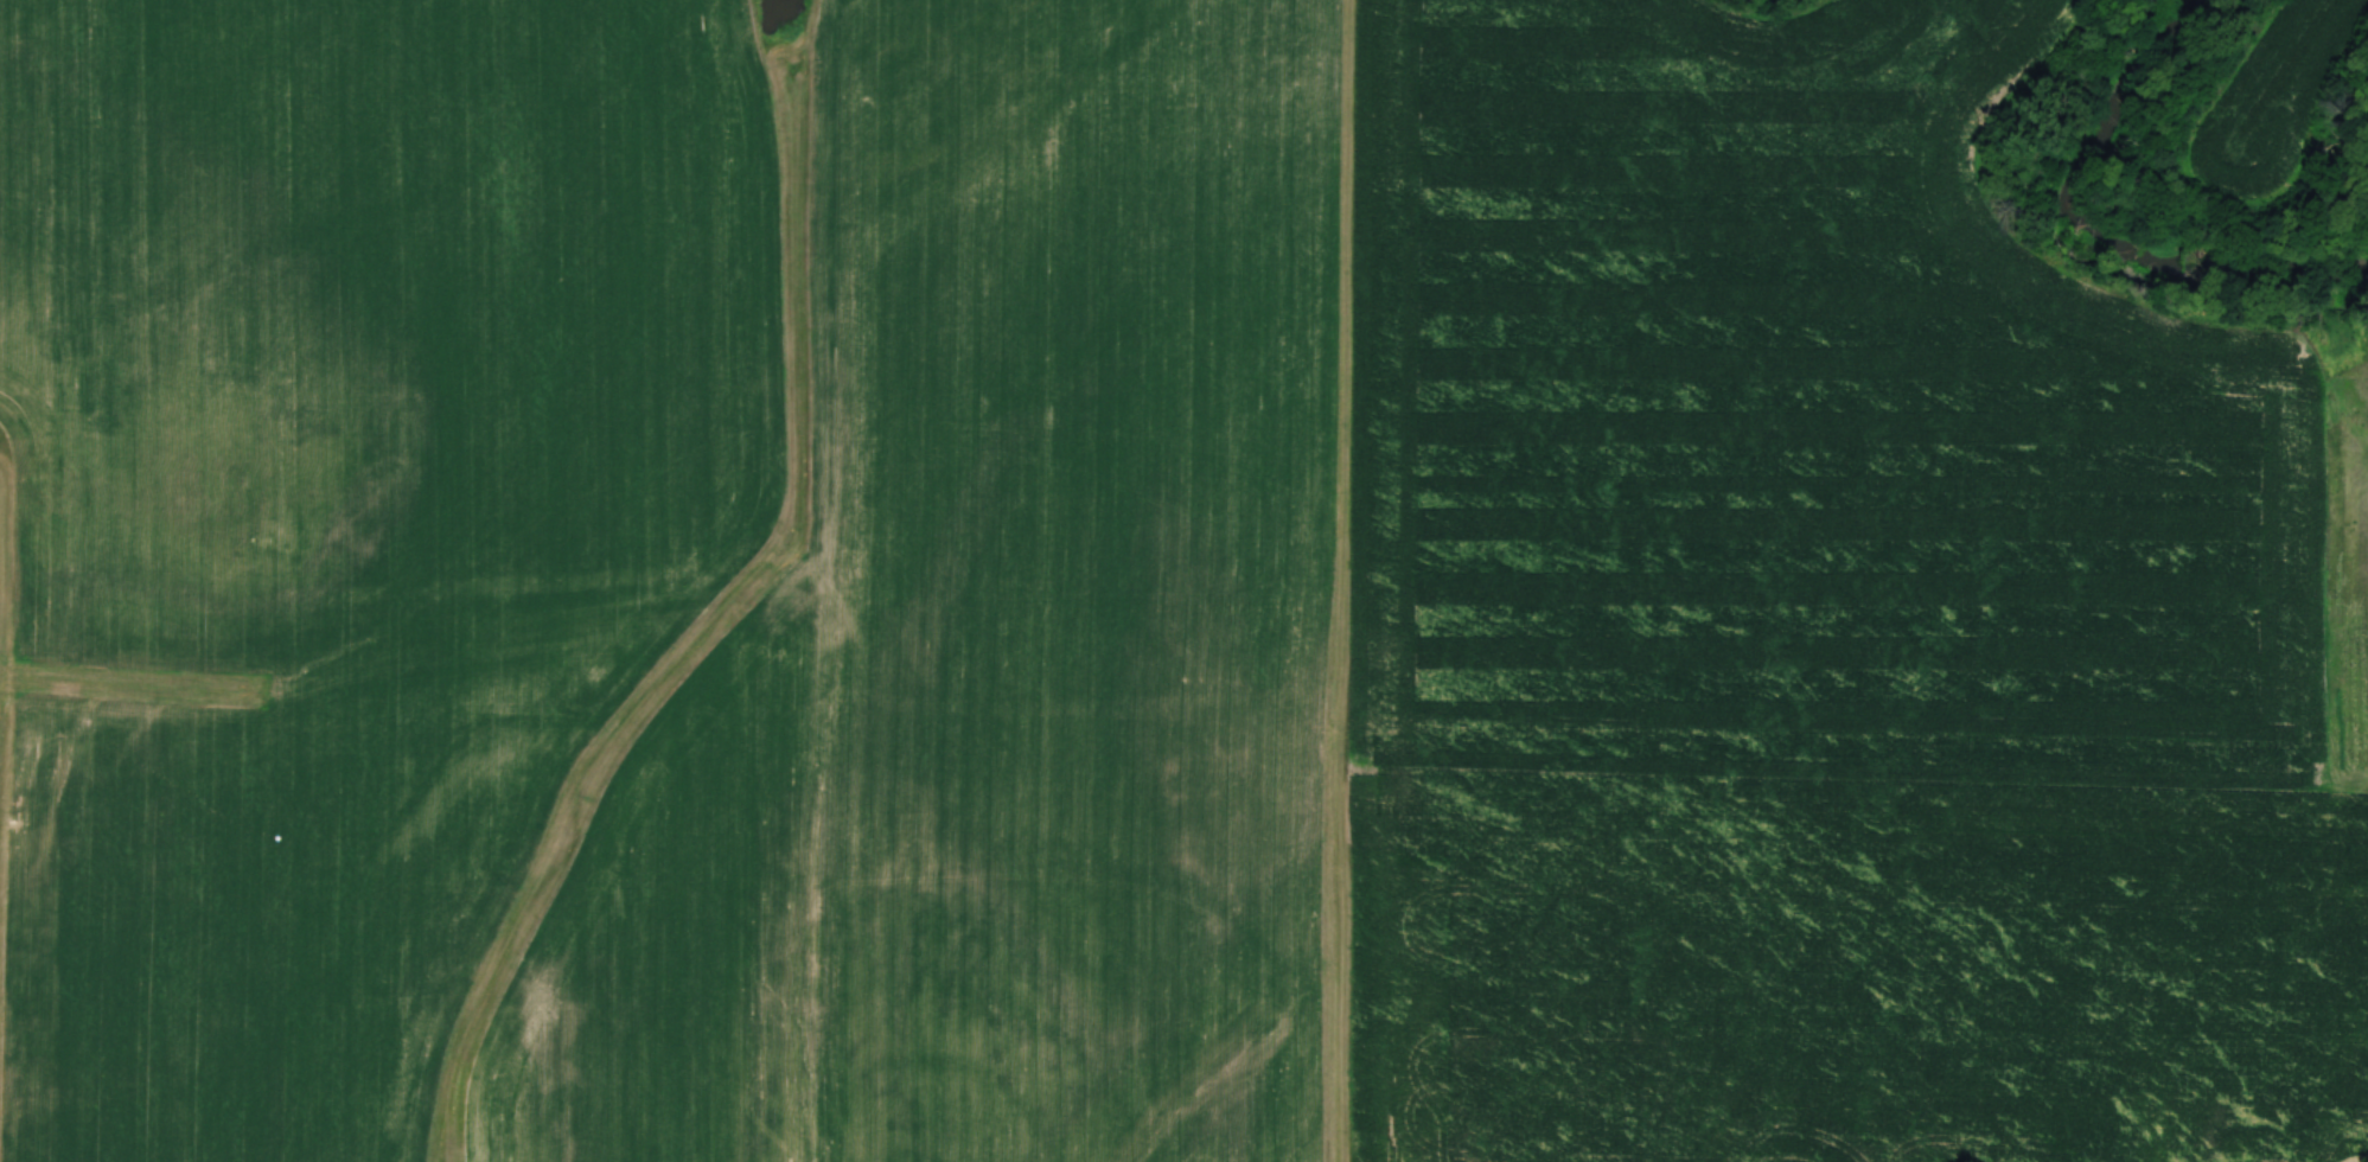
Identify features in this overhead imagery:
river: (2082, 243)

